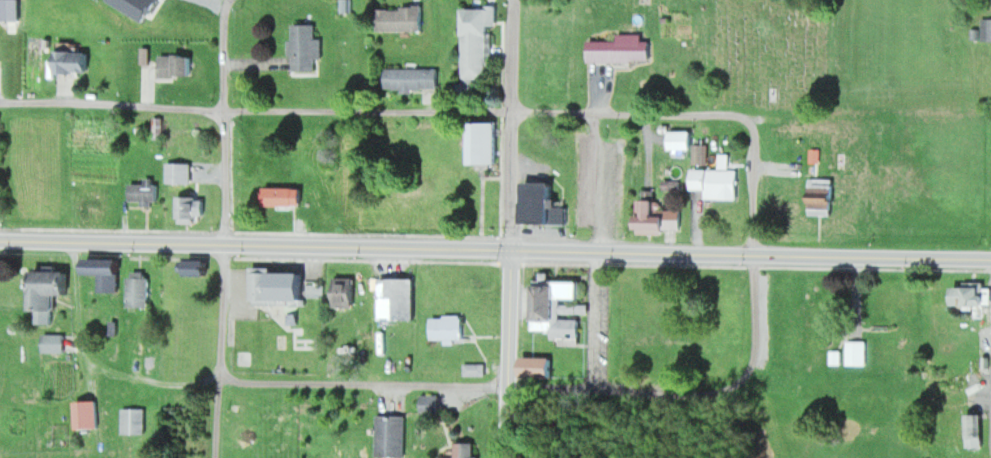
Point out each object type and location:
building: (398, 18)
building: (985, 29)
building: (475, 42)
building: (303, 47)
building: (619, 48)
park: (769, 55)
building: (71, 60)
building: (174, 65)
building: (410, 78)
road: (375, 110)
road: (507, 123)
building: (680, 139)
building: (482, 141)
building: (699, 153)
building: (177, 172)
building: (716, 182)
building: (142, 191)
building: (280, 196)
building: (820, 197)
building: (540, 204)
building: (89, 207)
building: (188, 208)
building: (655, 216)
road: (222, 228)
road: (447, 246)
road: (756, 252)
road: (942, 256)
building: (196, 267)
building: (104, 271)
building: (276, 286)
building: (137, 290)
building: (343, 292)
building: (47, 293)
building: (970, 295)
building: (394, 298)
building: (558, 308)
building: (445, 327)
building: (882, 332)
building: (52, 343)
building: (854, 352)
road: (505, 353)
building: (535, 367)
building: (473, 369)
road: (352, 380)
building: (429, 404)
building: (85, 414)
building: (132, 420)
building: (973, 429)
building: (390, 435)
building: (465, 450)

